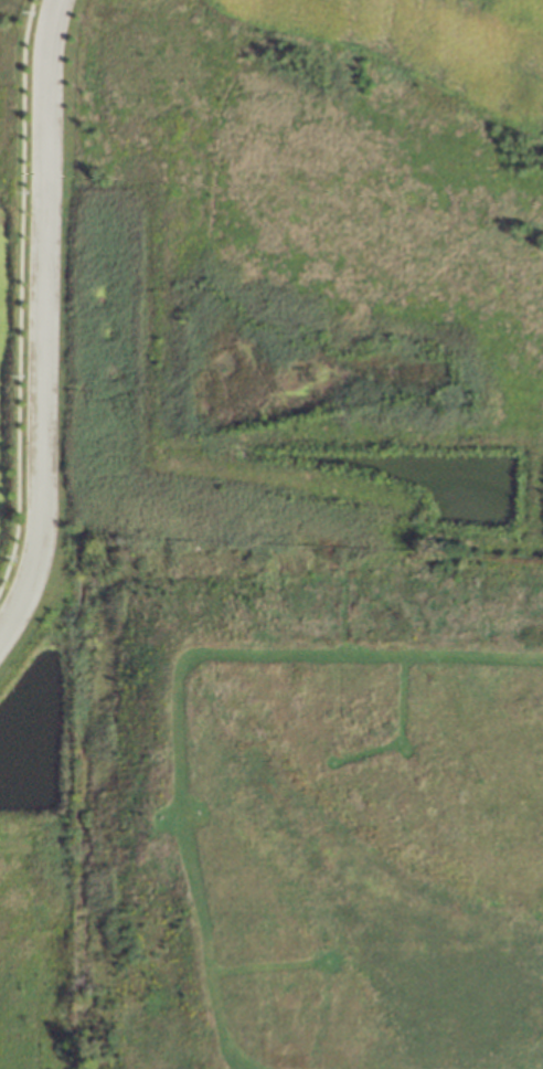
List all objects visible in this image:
road: (45, 324)

